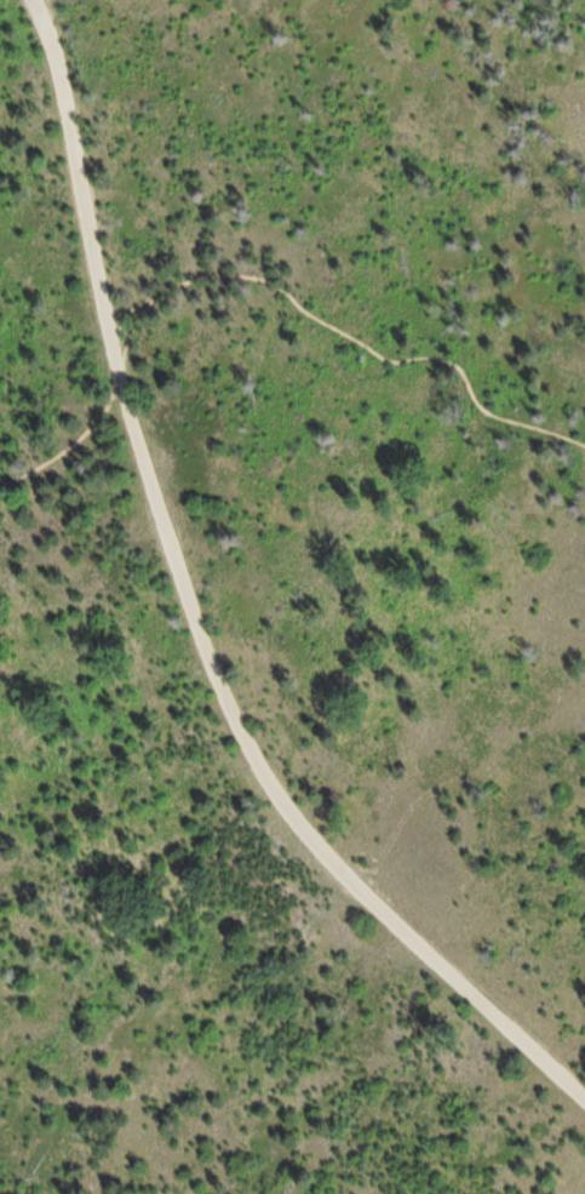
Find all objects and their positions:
road: (262, 280)
road: (196, 611)

